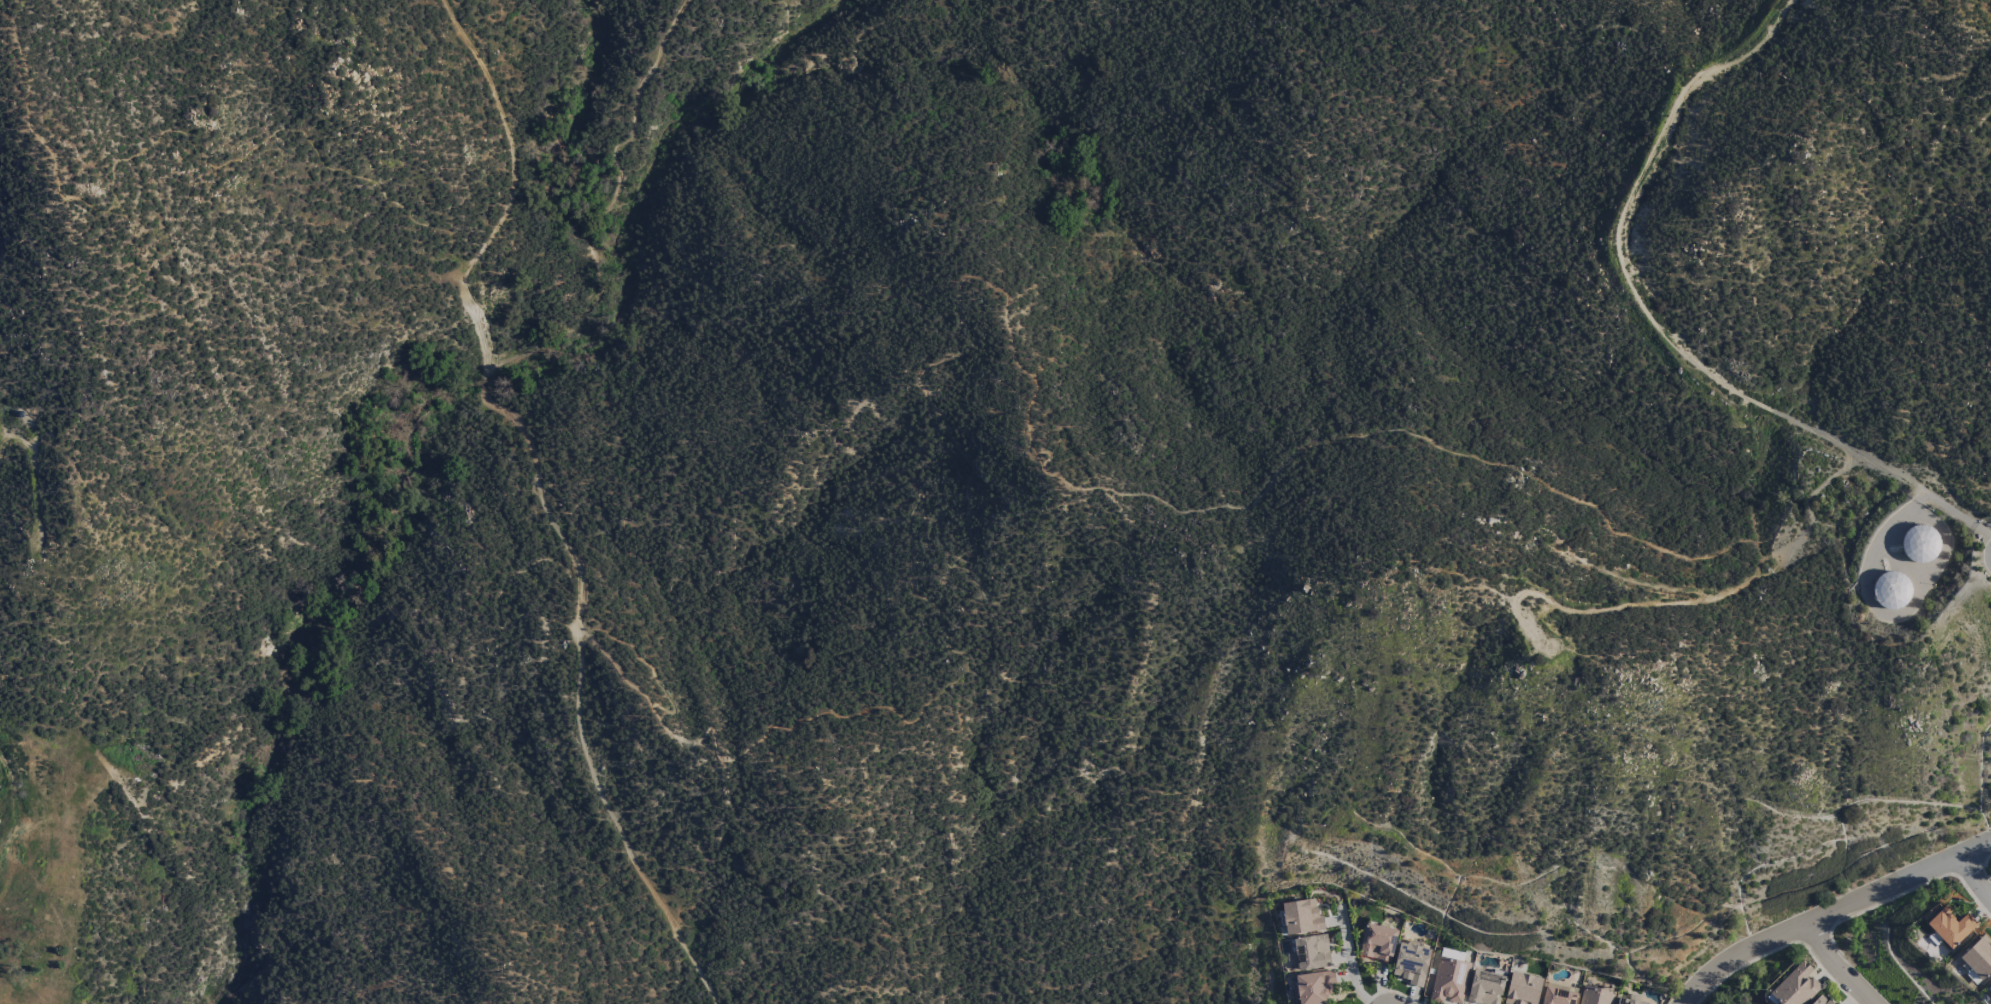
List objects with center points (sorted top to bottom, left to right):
road: (1628, 208)
road: (533, 469)
road: (1884, 469)
road: (1884, 535)
building: (1921, 543)
building: (1890, 589)
road: (1684, 602)
road: (1975, 877)
road: (1833, 915)
building: (1301, 917)
building: (1950, 927)
building: (1377, 942)
building: (1311, 952)
building: (1978, 957)
road: (1350, 958)
building: (1411, 963)
road: (1838, 967)
building: (1449, 978)
building: (1990, 985)
building: (1795, 986)
building: (1314, 987)
building: (1485, 988)
building: (1522, 989)
building: (1557, 996)
building: (1595, 996)
building: (1822, 1000)
building: (1626, 1001)

